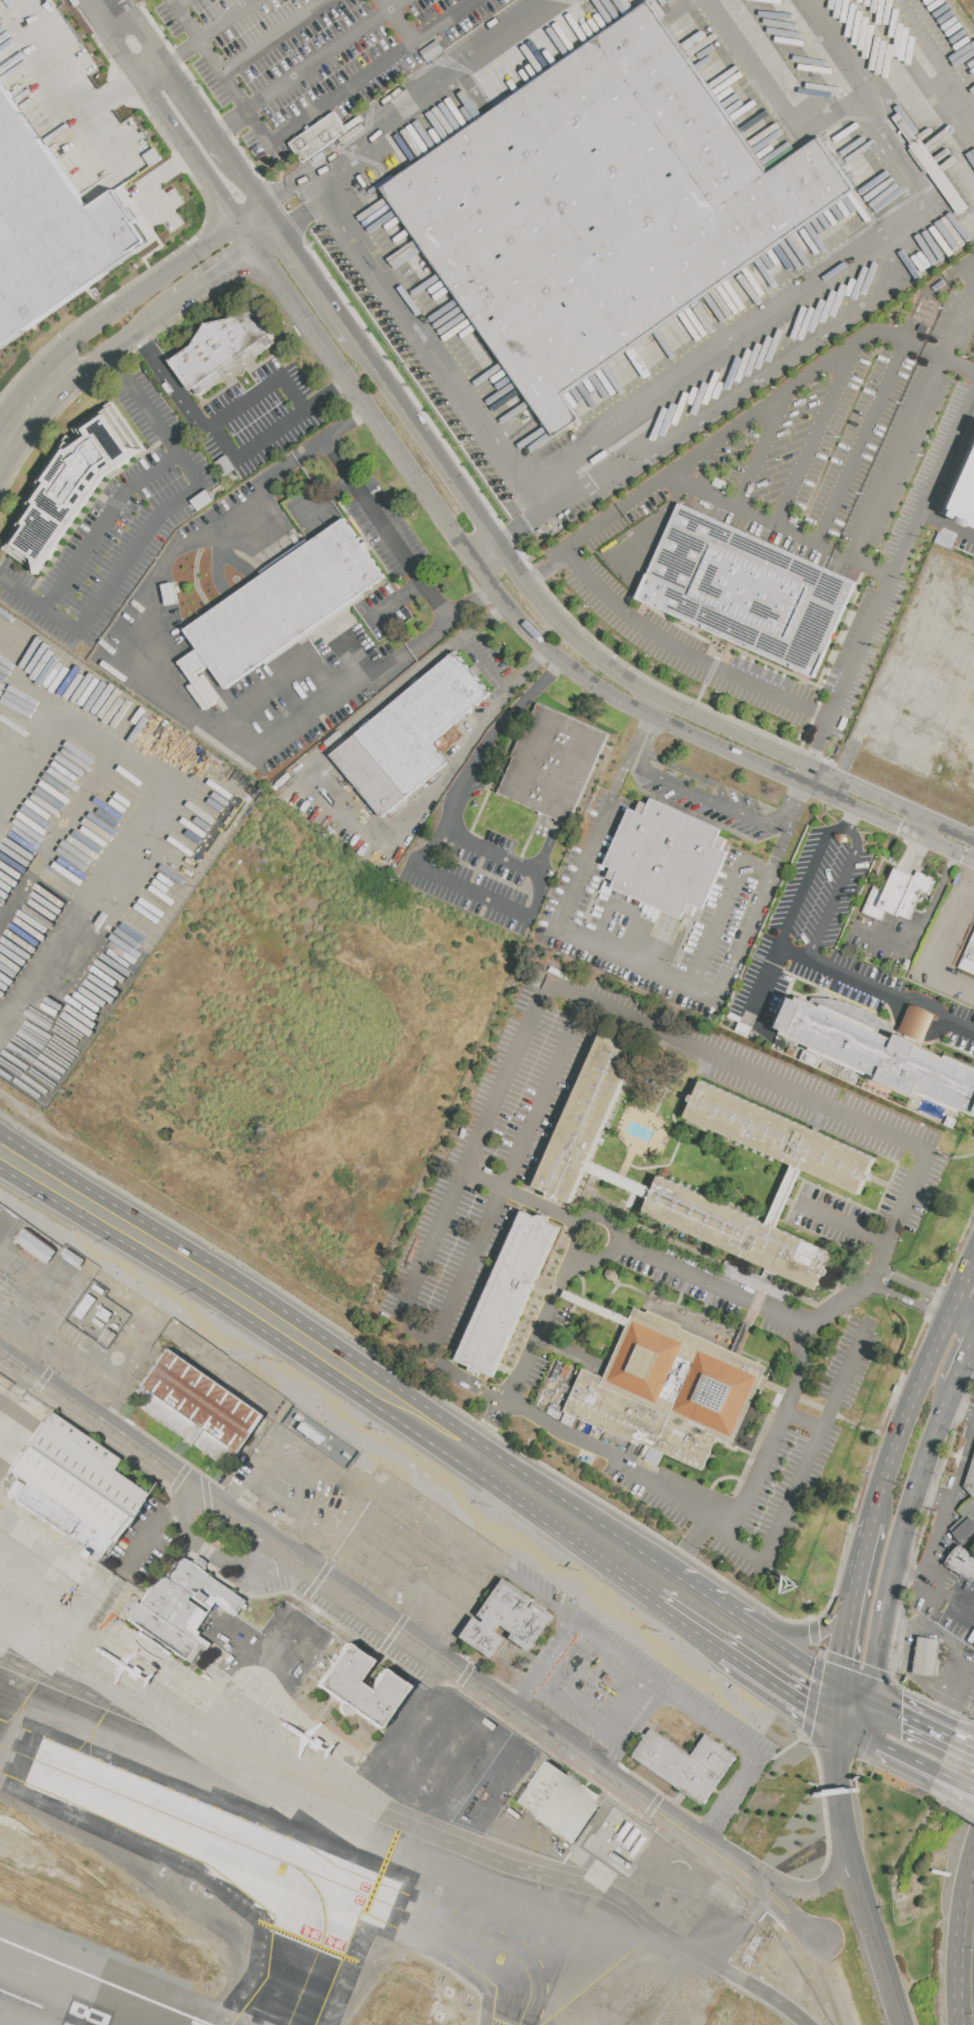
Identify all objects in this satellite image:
road: (94, 3)
road: (185, 18)
road: (228, 20)
road: (401, 21)
road: (144, 32)
road: (276, 36)
road: (183, 52)
parking lot: (310, 54)
road: (328, 55)
road: (935, 56)
road: (225, 74)
road: (62, 82)
road: (357, 84)
road: (125, 87)
road: (441, 88)
road: (781, 103)
parking lot: (79, 112)
road: (162, 113)
road: (202, 120)
road: (230, 122)
building: (319, 137)
road: (157, 177)
road: (252, 192)
road: (287, 193)
building: (599, 209)
road: (306, 220)
road: (273, 222)
building: (53, 228)
road: (270, 244)
road: (831, 277)
road: (221, 279)
road: (318, 286)
road: (148, 290)
road: (174, 348)
road: (118, 351)
building: (223, 357)
road: (115, 364)
road: (252, 367)
road: (232, 380)
road: (455, 380)
road: (262, 391)
road: (324, 395)
road: (775, 400)
road: (21, 413)
parking lot: (260, 417)
road: (913, 420)
road: (818, 430)
road: (860, 440)
road: (763, 449)
building: (70, 486)
road: (325, 498)
parking lot: (801, 498)
building: (966, 500)
road: (760, 519)
road: (102, 523)
road: (657, 524)
parking lot: (115, 526)
road: (383, 527)
road: (946, 528)
parking lot: (387, 532)
road: (147, 533)
road: (545, 565)
road: (872, 570)
building: (748, 591)
road: (398, 602)
building: (284, 608)
road: (945, 620)
road: (907, 624)
road: (532, 633)
road: (28, 650)
road: (937, 656)
road: (486, 661)
road: (603, 662)
parking lot: (926, 682)
road: (171, 691)
road: (45, 698)
road: (929, 699)
road: (838, 702)
road: (659, 710)
building: (411, 734)
road: (821, 742)
road: (918, 748)
road: (61, 749)
road: (850, 751)
building: (554, 764)
road: (138, 773)
road: (690, 774)
road: (806, 775)
parking lot: (479, 778)
road: (834, 788)
parking lot: (105, 791)
road: (77, 794)
road: (340, 798)
road: (710, 800)
road: (456, 806)
parking lot: (716, 808)
road: (853, 815)
road: (699, 817)
road: (847, 824)
parking lot: (497, 843)
road: (140, 846)
building: (672, 859)
road: (805, 879)
road: (457, 886)
parking lot: (475, 888)
road: (58, 892)
road: (837, 892)
road: (541, 895)
building: (899, 895)
parking lot: (815, 901)
road: (625, 909)
road: (723, 914)
road: (118, 941)
road: (942, 942)
building: (966, 951)
road: (64, 955)
road: (621, 957)
parking lot: (52, 978)
road: (761, 979)
road: (875, 990)
building: (883, 1055)
road: (518, 1058)
road: (762, 1075)
road: (546, 1092)
building: (587, 1115)
building: (780, 1139)
parking lot: (494, 1148)
road: (619, 1180)
road: (784, 1196)
road: (906, 1199)
road: (545, 1202)
road: (841, 1222)
road: (0, 1224)
road: (574, 1232)
building: (739, 1233)
building: (33, 1245)
road: (431, 1248)
road: (1, 1252)
building: (71, 1255)
road: (472, 1264)
road: (971, 1273)
road: (57, 1280)
parking lot: (687, 1280)
road: (49, 1284)
road: (711, 1284)
road: (917, 1286)
building: (96, 1288)
building: (508, 1294)
road: (856, 1295)
road: (961, 1297)
road: (909, 1301)
building: (83, 1306)
building: (102, 1313)
road: (241, 1316)
road: (963, 1319)
building: (97, 1321)
road: (541, 1322)
road: (20, 1329)
building: (102, 1335)
building: (107, 1339)
road: (337, 1346)
road: (33, 1355)
road: (801, 1369)
road: (460, 1375)
road: (100, 1383)
road: (960, 1384)
building: (671, 1390)
building: (556, 1401)
building: (194, 1406)
road: (910, 1416)
road: (492, 1417)
road: (803, 1418)
parking lot: (802, 1429)
road: (274, 1441)
road: (608, 1457)
road: (806, 1460)
building: (970, 1479)
road: (311, 1480)
road: (753, 1483)
road: (956, 1483)
building: (73, 1484)
road: (235, 1492)
road: (290, 1508)
building: (968, 1508)
road: (154, 1521)
parking lot: (365, 1526)
building: (964, 1529)
road: (357, 1536)
road: (566, 1537)
road: (447, 1538)
road: (934, 1539)
road: (688, 1547)
road: (867, 1551)
road: (325, 1553)
road: (901, 1555)
road: (221, 1558)
building: (963, 1562)
road: (908, 1573)
road: (945, 1593)
road: (420, 1596)
road: (712, 1600)
building: (178, 1605)
building: (509, 1621)
road: (691, 1626)
road: (580, 1627)
road: (818, 1630)
road: (849, 1632)
road: (901, 1639)
road: (417, 1641)
road: (929, 1644)
road: (900, 1648)
road: (788, 1651)
road: (928, 1652)
road: (955, 1652)
road: (949, 1653)
building: (927, 1656)
road: (949, 1657)
road: (595, 1679)
road: (831, 1679)
traffic signals: (841, 1684)
building: (360, 1687)
road: (781, 1688)
road: (857, 1691)
traffic signals: (874, 1699)
road: (839, 1703)
road: (856, 1711)
road: (914, 1717)
road: (705, 1721)
road: (600, 1723)
traffic signals: (838, 1723)
airport apron: (303, 1739)
road: (964, 1740)
airport: (380, 1741)
road: (890, 1747)
road: (618, 1748)
building: (686, 1764)
road: (838, 1770)
road: (958, 1780)
road: (958, 1784)
building: (557, 1800)
road: (413, 1826)
airport taxiway: (267, 1855)
helipad: (593, 1855)
helipad: (623, 1862)
helipad: (652, 1869)
helipad: (682, 1876)
road: (820, 1890)
road: (871, 1921)
airport taxiway: (321, 1942)
road: (962, 1947)
airport taxiway: (528, 2000)
airport runway: (42, 2007)

